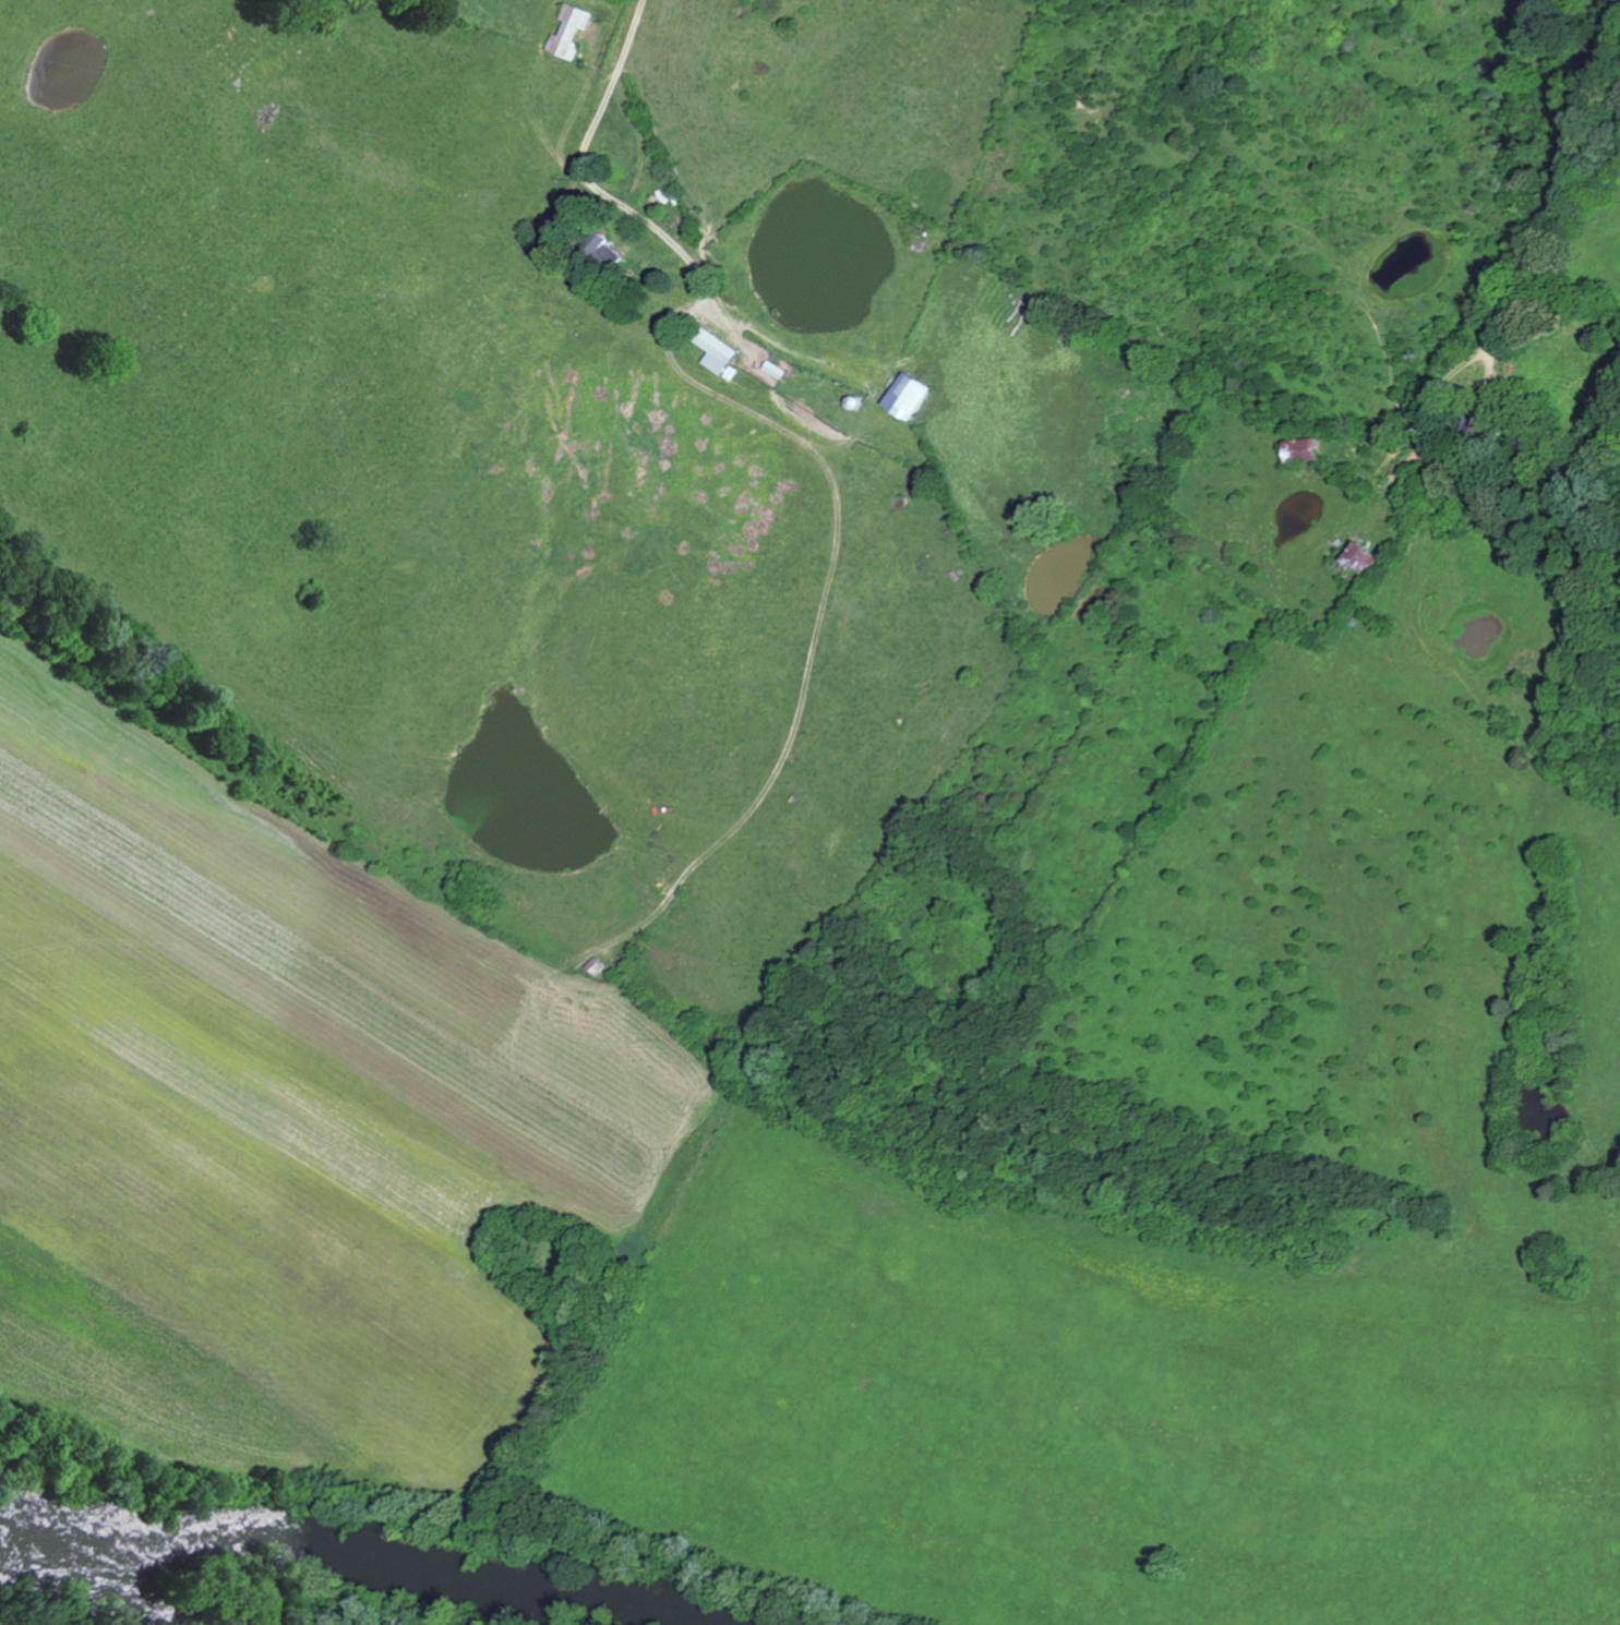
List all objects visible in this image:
road: (1617, 1)
building: (568, 31)
road: (670, 236)
road: (1498, 258)
building: (711, 350)
building: (772, 369)
river: (184, 1577)

